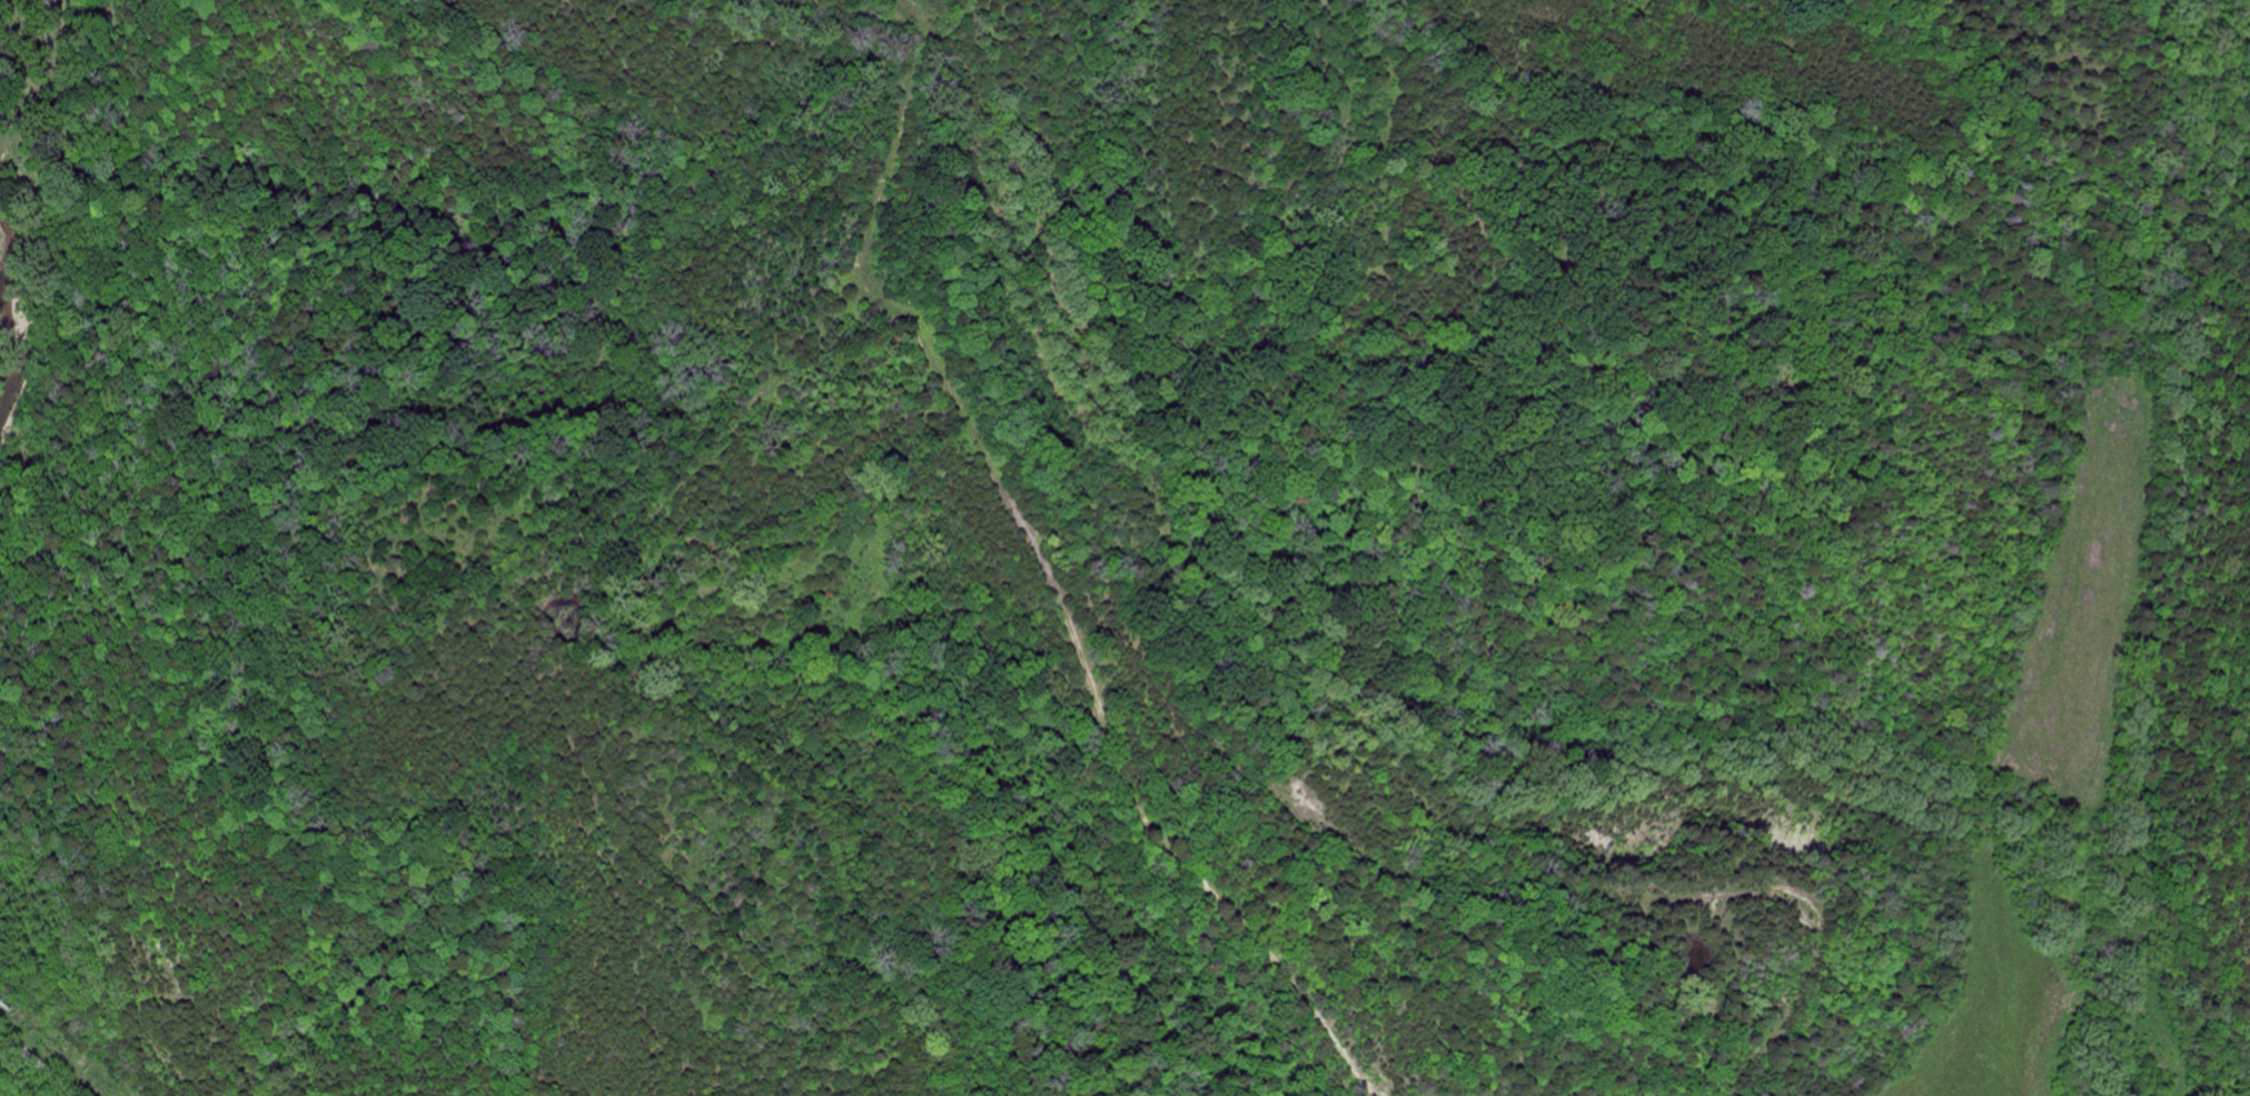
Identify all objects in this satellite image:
road: (43, 1056)

